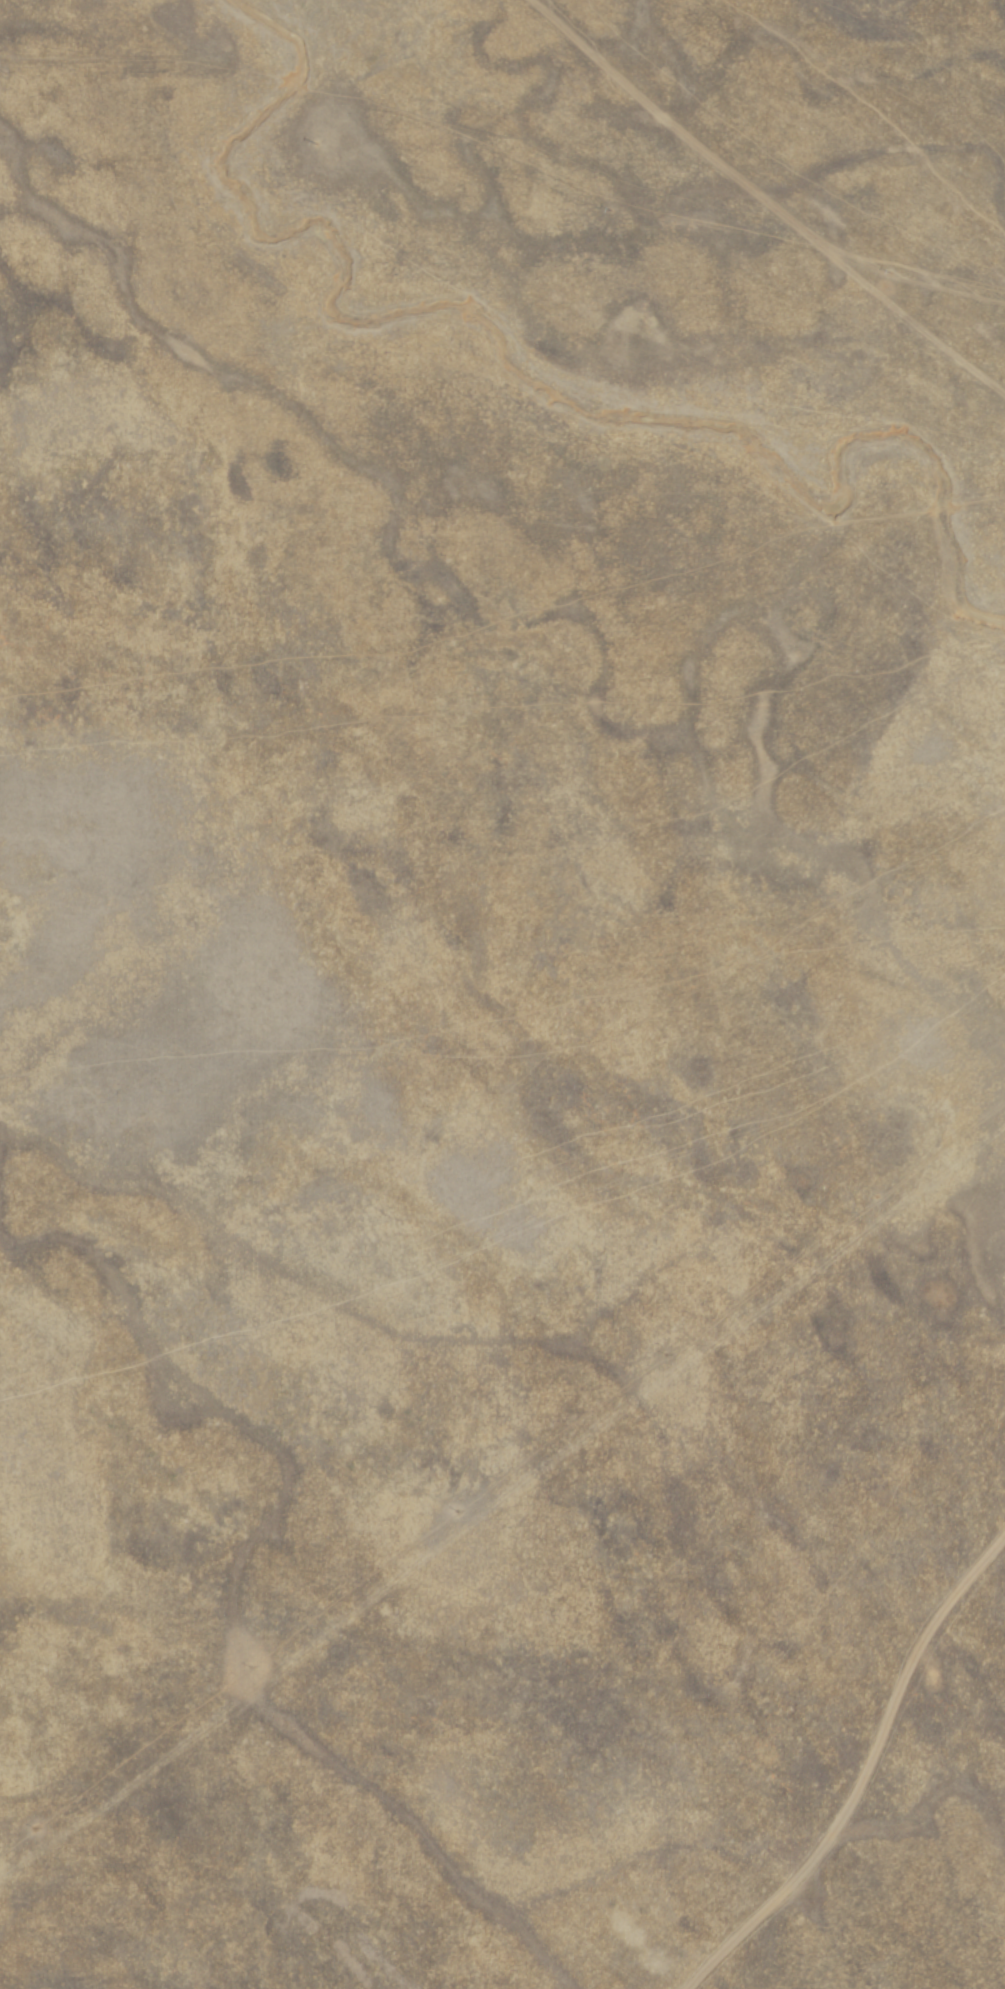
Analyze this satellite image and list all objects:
road: (859, 1798)

